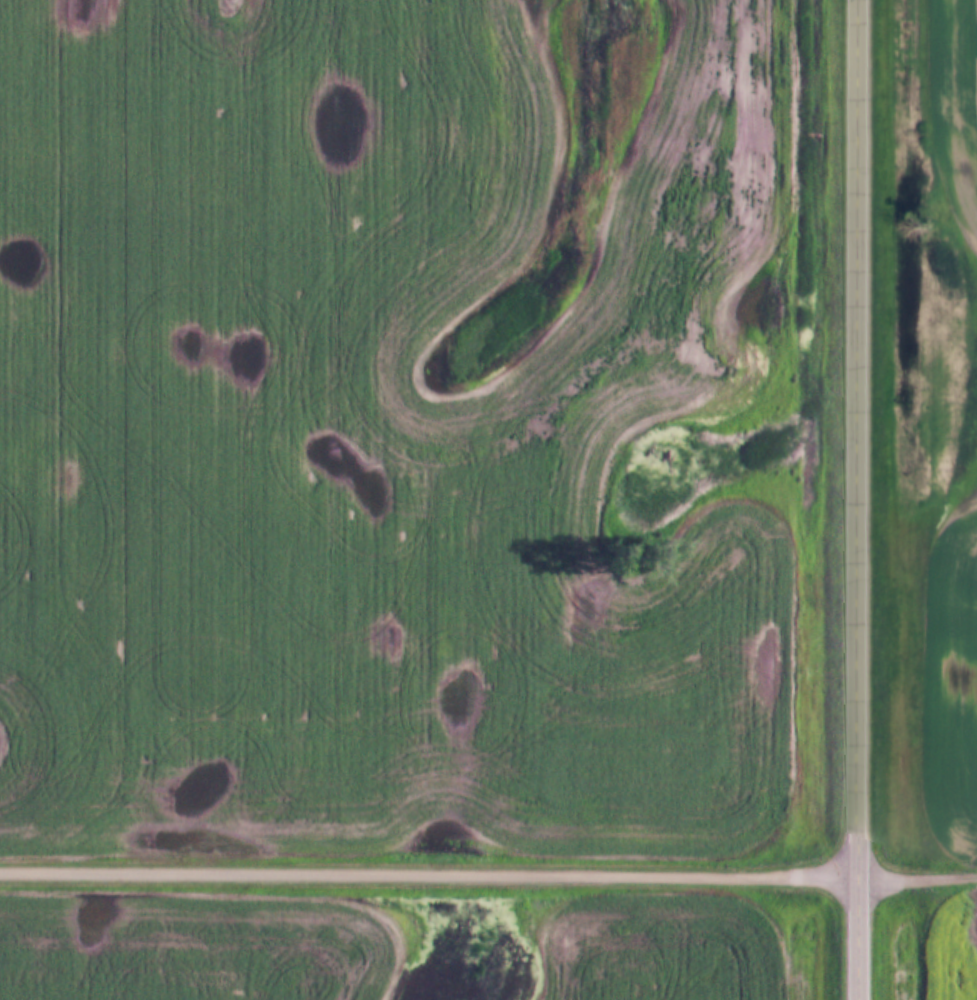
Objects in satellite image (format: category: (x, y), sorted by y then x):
road: (858, 499)
road: (428, 876)
road: (917, 876)

